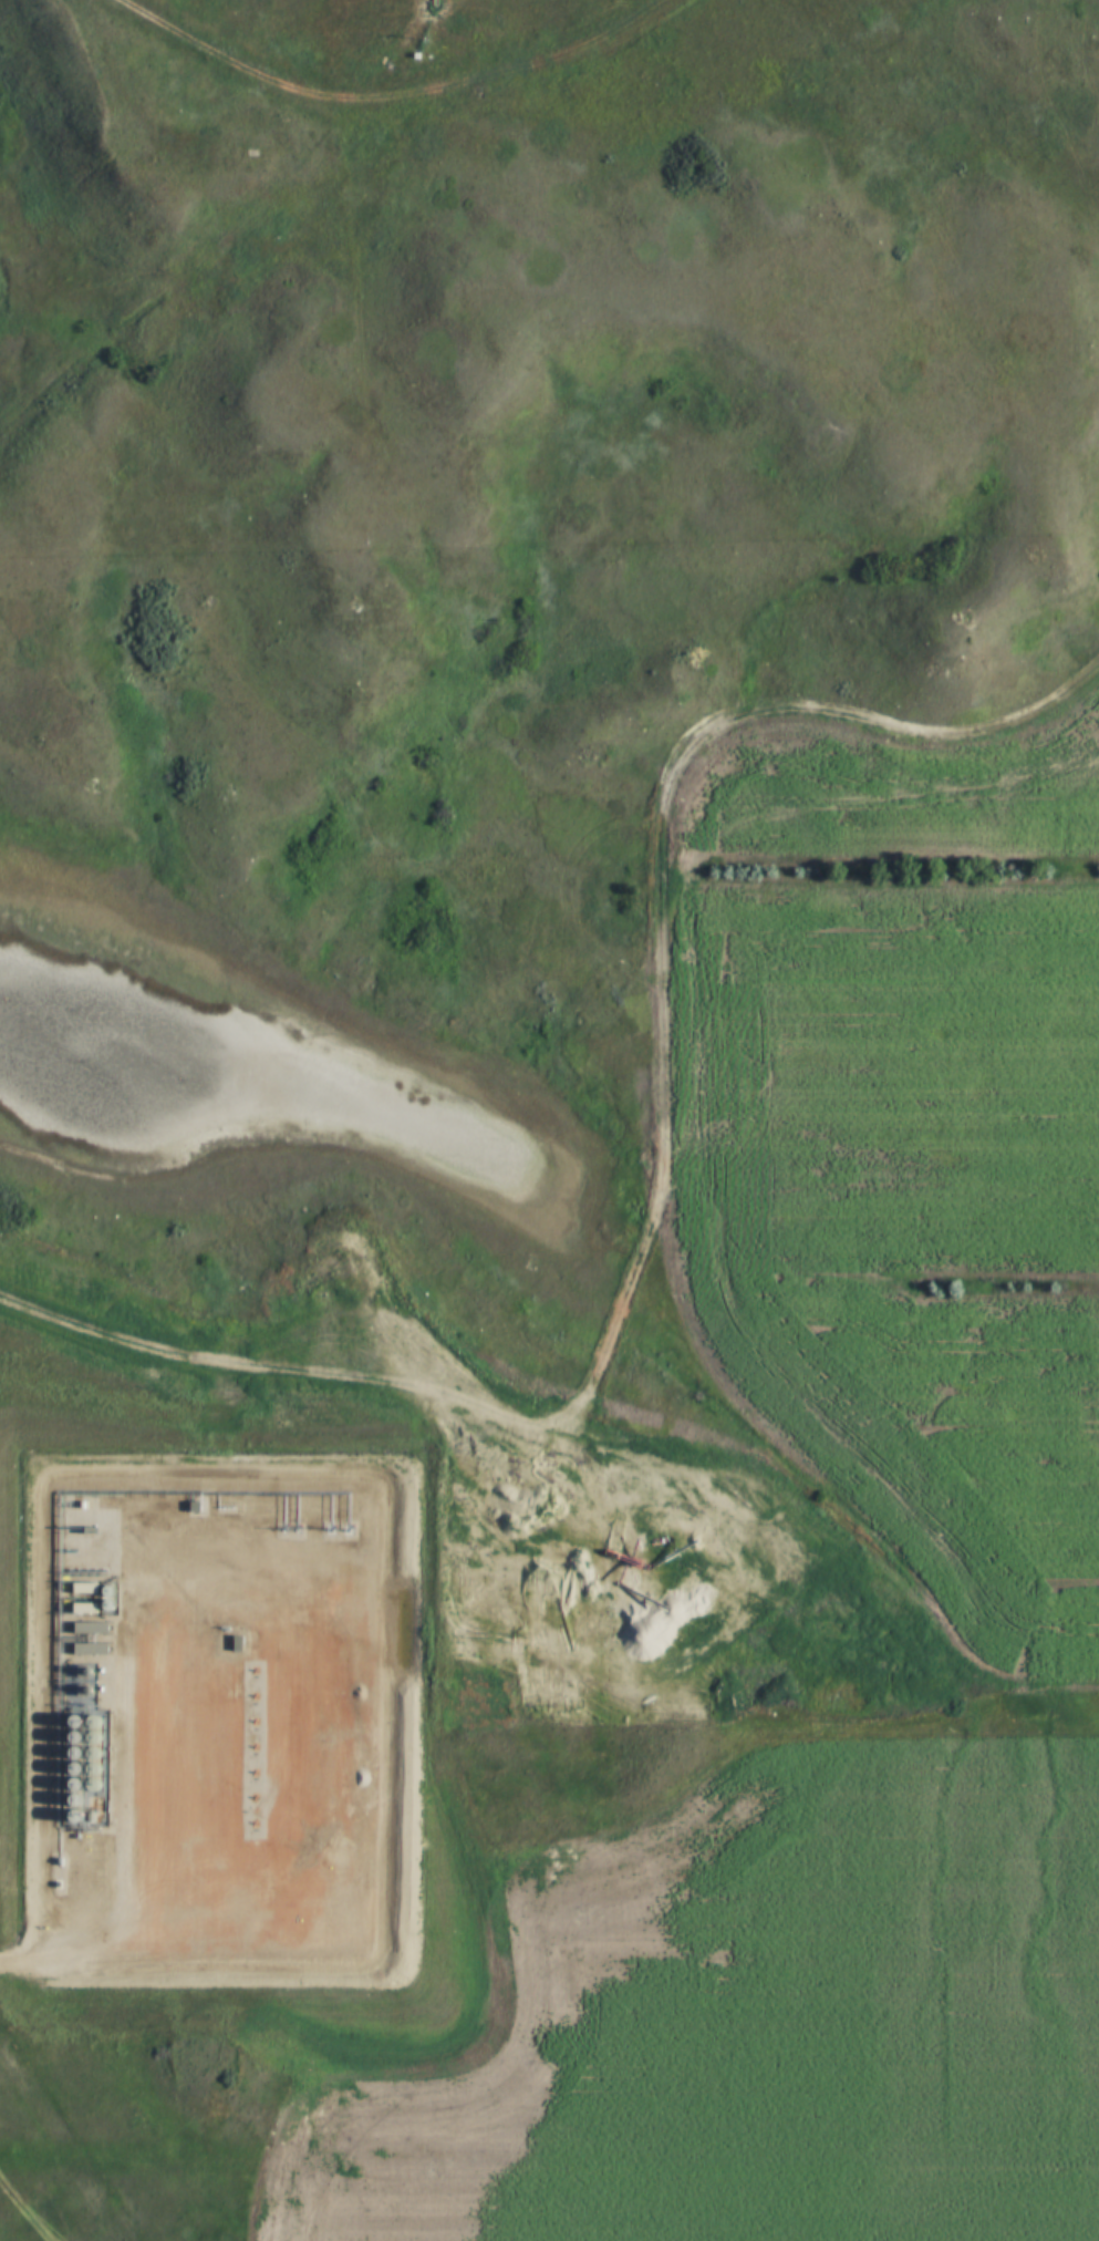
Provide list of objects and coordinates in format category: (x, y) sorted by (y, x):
road: (427, 1634)
road: (220, 1862)
road: (13, 1900)
road: (103, 2010)

